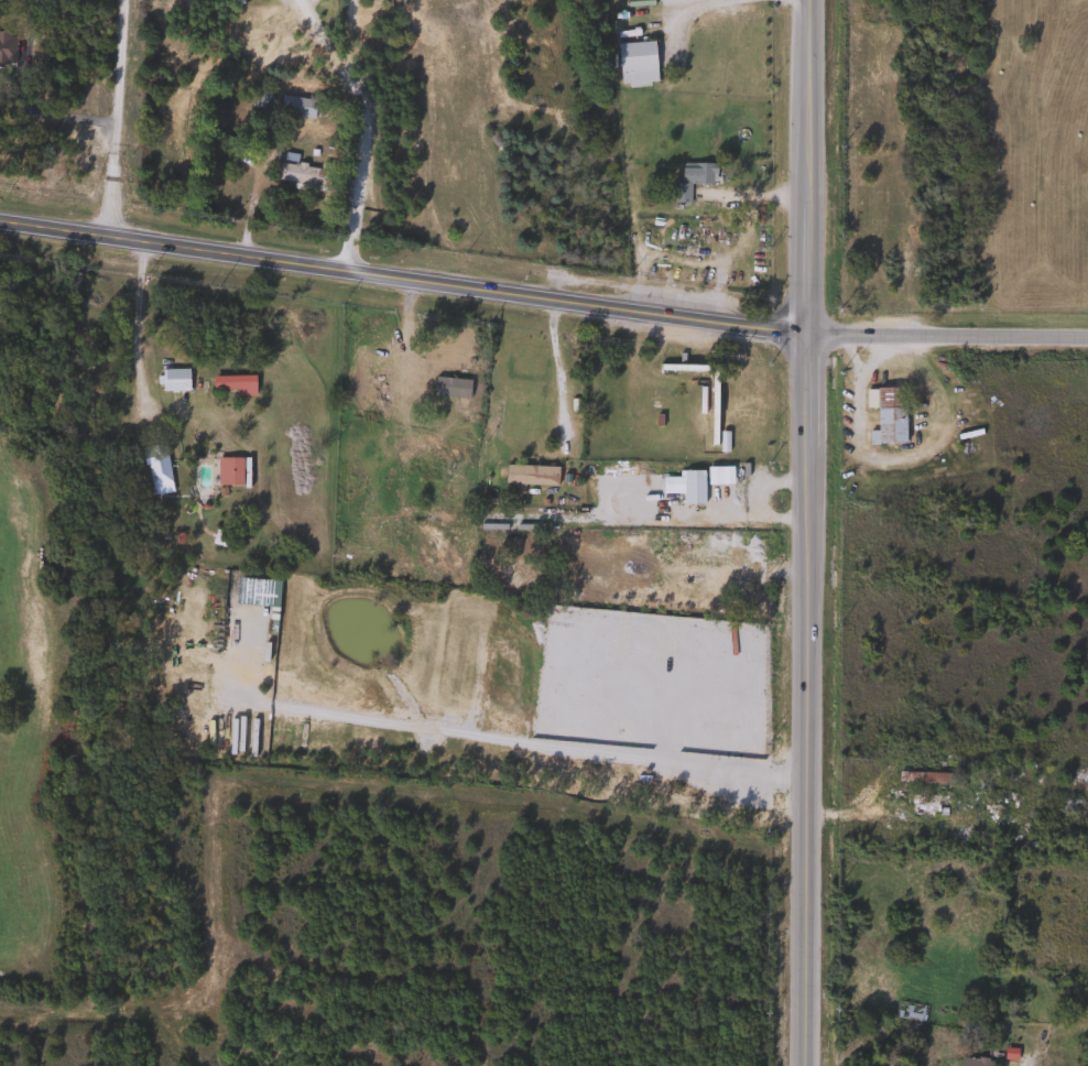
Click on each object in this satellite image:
road: (694, 7)
road: (356, 39)
road: (328, 42)
building: (634, 64)
building: (295, 107)
road: (46, 115)
road: (112, 117)
road: (363, 174)
building: (302, 176)
building: (689, 180)
road: (250, 199)
road: (401, 278)
road: (946, 335)
building: (442, 344)
building: (586, 360)
road: (553, 372)
building: (172, 380)
building: (232, 384)
building: (448, 388)
road: (160, 402)
building: (884, 415)
road: (895, 457)
building: (154, 469)
building: (228, 471)
building: (527, 475)
building: (690, 487)
road: (805, 532)
building: (220, 537)
building: (716, 545)
building: (920, 777)
building: (922, 805)
road: (841, 814)
building: (1004, 819)
building: (907, 1012)
building: (973, 1063)
road: (1025, 1064)

